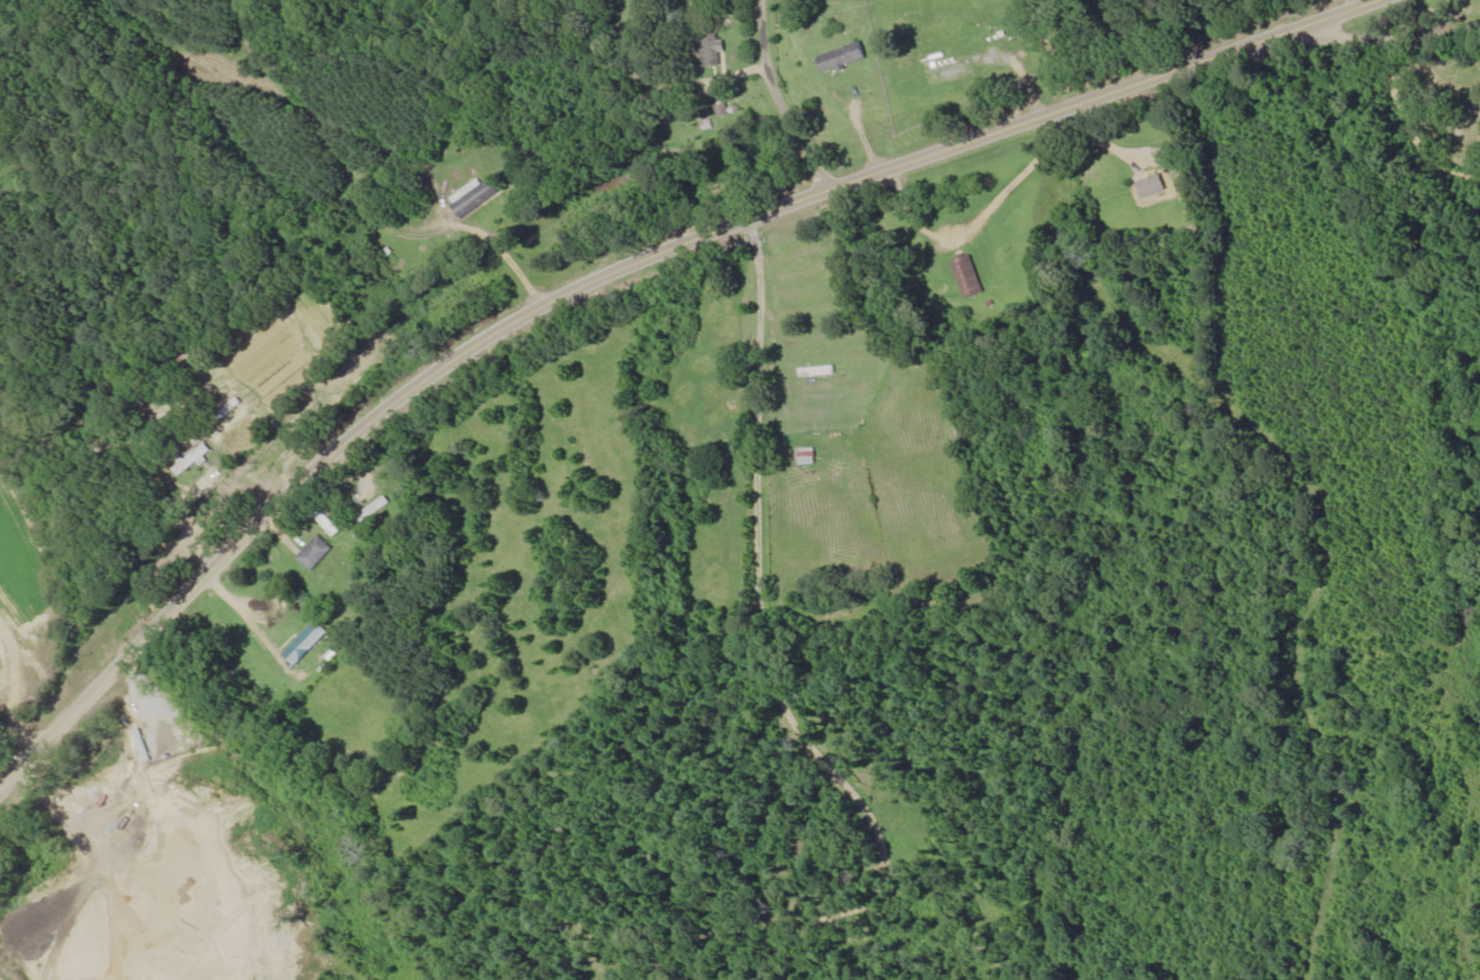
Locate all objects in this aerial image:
road: (1391, 42)
building: (711, 49)
building: (842, 59)
road: (772, 96)
building: (1152, 182)
building: (473, 197)
road: (305, 253)
road: (617, 273)
building: (968, 278)
building: (815, 372)
road: (154, 376)
building: (234, 407)
building: (806, 457)
building: (317, 554)
road: (36, 571)
building: (309, 643)
road: (782, 653)
building: (155, 717)

